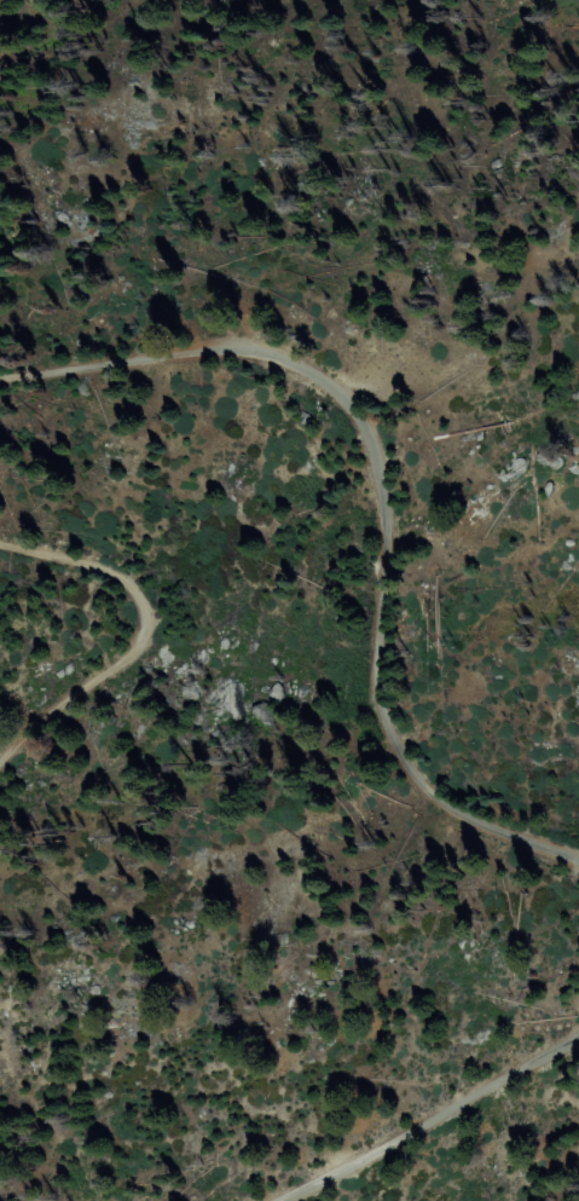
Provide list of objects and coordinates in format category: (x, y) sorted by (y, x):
road: (382, 502)
road: (137, 630)
road: (429, 1121)

